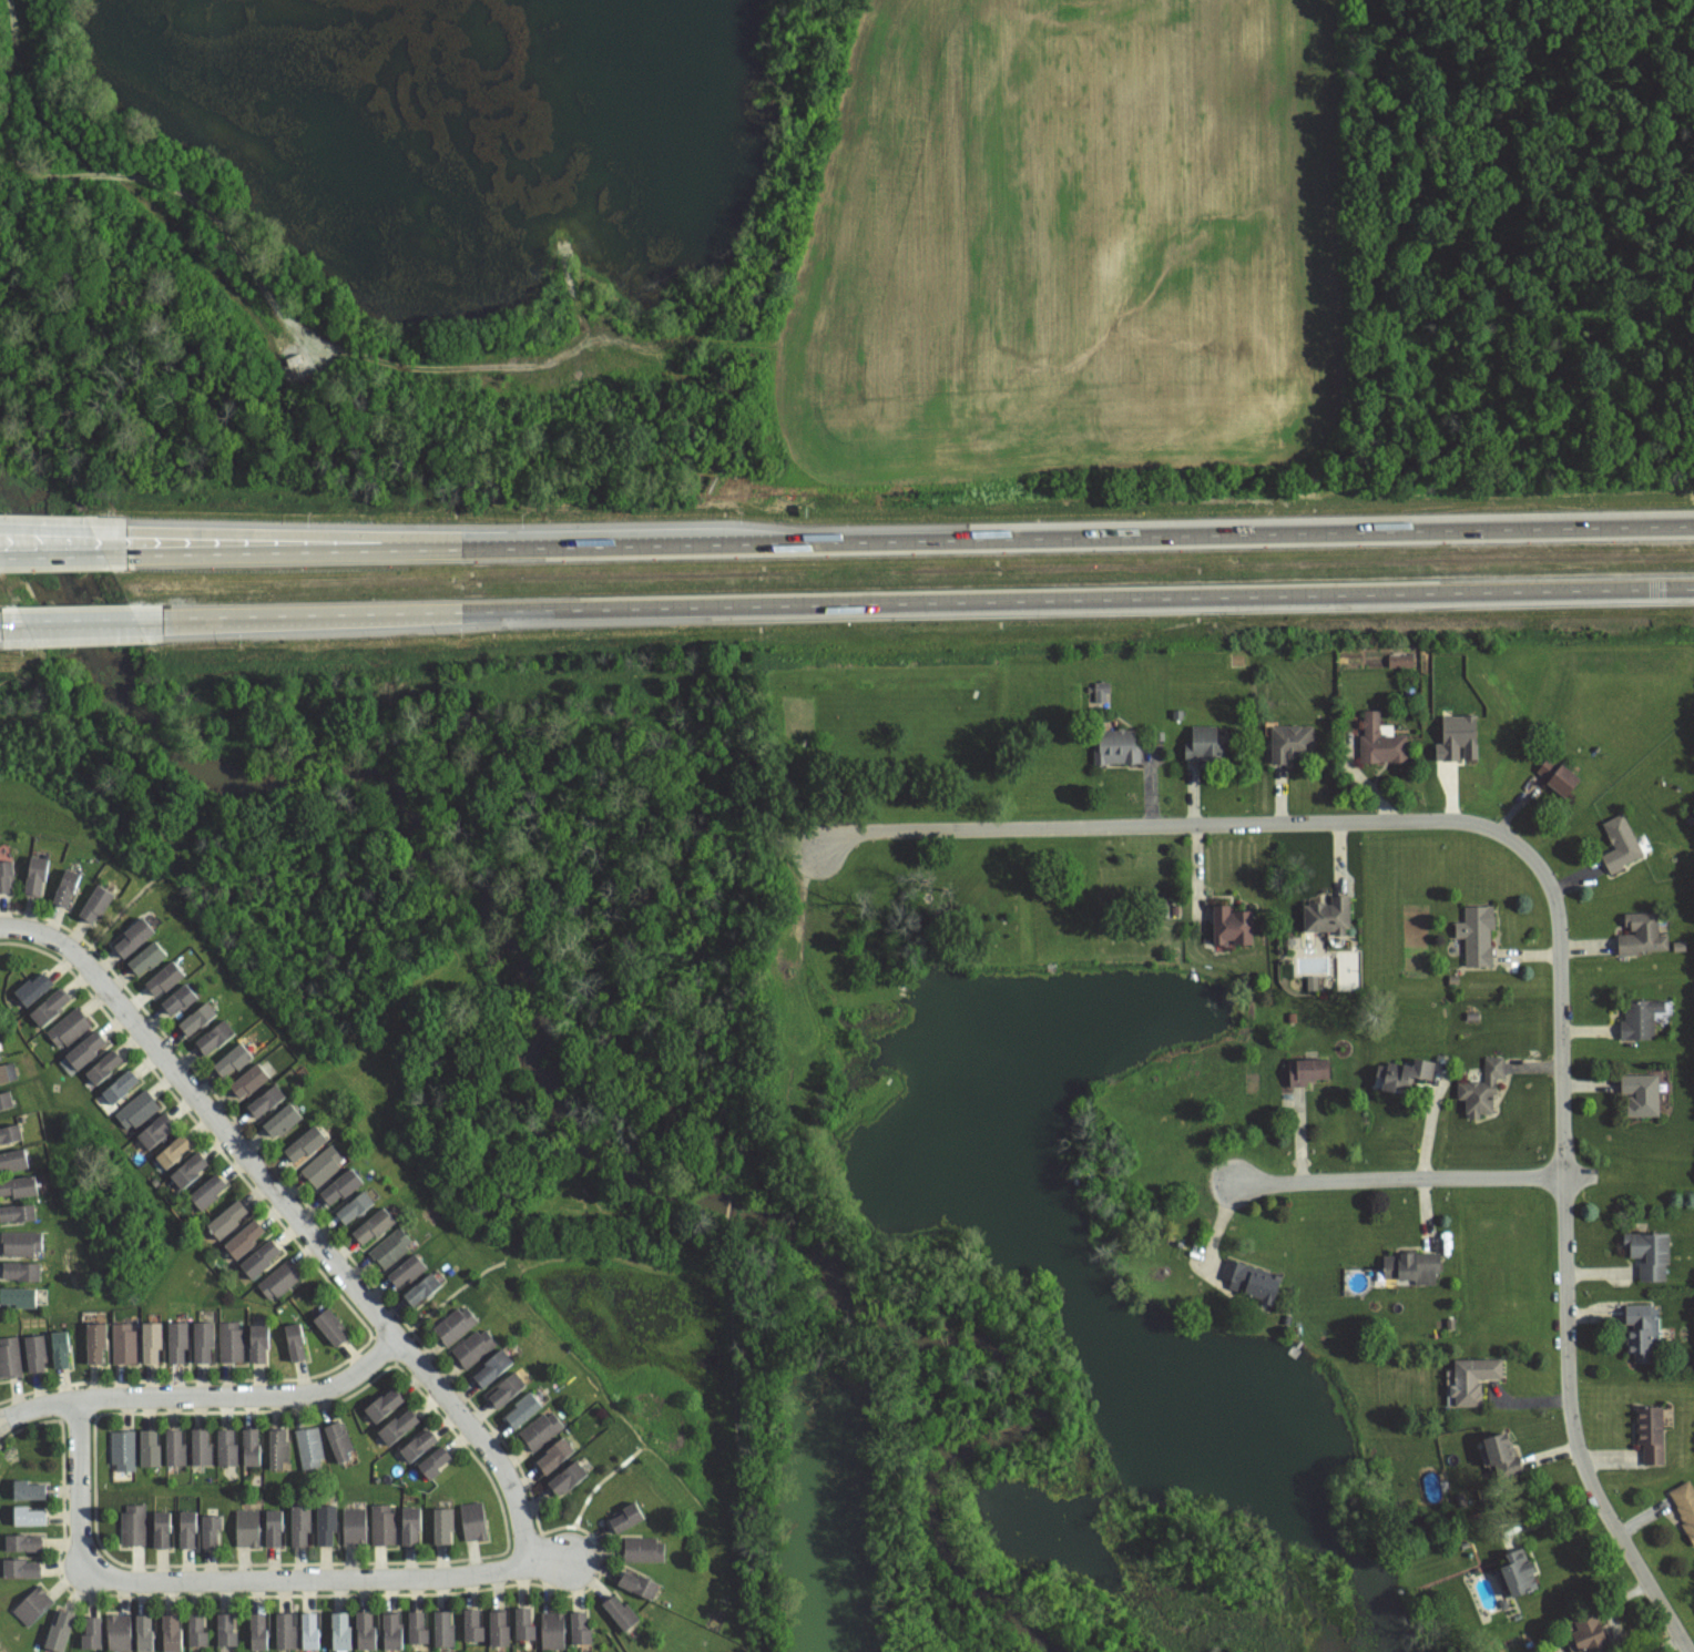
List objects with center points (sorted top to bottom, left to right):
road: (43, 530)
road: (455, 537)
road: (897, 541)
road: (50, 555)
road: (911, 602)
road: (74, 619)
road: (316, 619)
road: (10, 620)
road: (81, 629)
road: (13, 632)
building: (1400, 661)
building: (1457, 737)
building: (1380, 741)
building: (1289, 742)
building: (1203, 744)
building: (1114, 747)
building: (1557, 775)
building: (1619, 844)
building: (38, 871)
building: (6, 874)
building: (69, 884)
building: (96, 901)
road: (1554, 901)
building: (1326, 916)
building: (1231, 928)
building: (1476, 934)
building: (1643, 934)
building: (135, 935)
building: (1680, 947)
building: (150, 958)
building: (167, 978)
building: (1453, 980)
building: (1312, 982)
building: (30, 987)
building: (181, 999)
building: (50, 1005)
building: (198, 1017)
building: (1290, 1018)
building: (1472, 1018)
building: (1640, 1018)
building: (68, 1027)
building: (217, 1038)
building: (89, 1048)
building: (236, 1059)
park: (643, 1062)
building: (105, 1067)
building: (1307, 1071)
building: (6, 1073)
building: (1402, 1075)
building: (251, 1079)
building: (122, 1087)
building: (1481, 1090)
building: (1647, 1094)
building: (7, 1098)
building: (268, 1099)
building: (139, 1108)
building: (283, 1119)
road: (1432, 1121)
building: (11, 1131)
building: (157, 1131)
building: (306, 1142)
building: (175, 1150)
building: (14, 1159)
building: (323, 1164)
building: (192, 1169)
road: (1398, 1179)
building: (16, 1183)
building: (340, 1185)
building: (207, 1192)
building: (357, 1206)
building: (17, 1212)
building: (227, 1217)
road: (296, 1218)
building: (375, 1225)
building: (243, 1238)
building: (17, 1241)
building: (392, 1246)
building: (1653, 1254)
building: (258, 1257)
building: (21, 1268)
building: (409, 1269)
building: (1411, 1269)
building: (277, 1278)
building: (1248, 1279)
building: (425, 1288)
building: (17, 1294)
road: (447, 1296)
building: (455, 1323)
building: (1450, 1324)
building: (333, 1326)
building: (1641, 1327)
building: (93, 1338)
building: (175, 1338)
building: (201, 1338)
building: (227, 1338)
building: (256, 1338)
building: (150, 1339)
building: (121, 1340)
building: (294, 1340)
building: (478, 1345)
building: (61, 1346)
building: (34, 1350)
building: (8, 1355)
building: (493, 1366)
building: (1469, 1380)
building: (511, 1386)
road: (205, 1397)
building: (385, 1401)
building: (527, 1407)
building: (399, 1425)
building: (541, 1428)
building: (1655, 1428)
building: (339, 1440)
building: (419, 1444)
building: (249, 1445)
building: (200, 1446)
building: (225, 1446)
building: (174, 1447)
building: (122, 1448)
building: (150, 1448)
building: (307, 1448)
building: (277, 1450)
building: (1504, 1454)
building: (557, 1455)
building: (436, 1461)
building: (569, 1477)
building: (30, 1487)
building: (1684, 1502)
building: (29, 1516)
building: (631, 1516)
building: (474, 1521)
building: (134, 1523)
building: (300, 1523)
building: (326, 1523)
building: (354, 1523)
building: (384, 1523)
building: (443, 1523)
building: (275, 1524)
building: (414, 1524)
building: (162, 1526)
building: (246, 1526)
building: (188, 1527)
building: (213, 1528)
building: (22, 1540)
building: (646, 1549)
building: (20, 1567)
building: (1522, 1572)
road: (239, 1581)
building: (643, 1585)
building: (31, 1605)
building: (625, 1610)
building: (474, 1623)
building: (528, 1623)
building: (420, 1625)
building: (584, 1626)
building: (59, 1628)
building: (227, 1628)
building: (394, 1628)
building: (446, 1628)
building: (501, 1628)
building: (259, 1629)
building: (312, 1629)
building: (116, 1630)
building: (146, 1630)
building: (173, 1630)
building: (286, 1630)
building: (368, 1630)
building: (555, 1630)
building: (1591, 1630)
building: (88, 1631)
building: (197, 1631)
building: (343, 1631)

